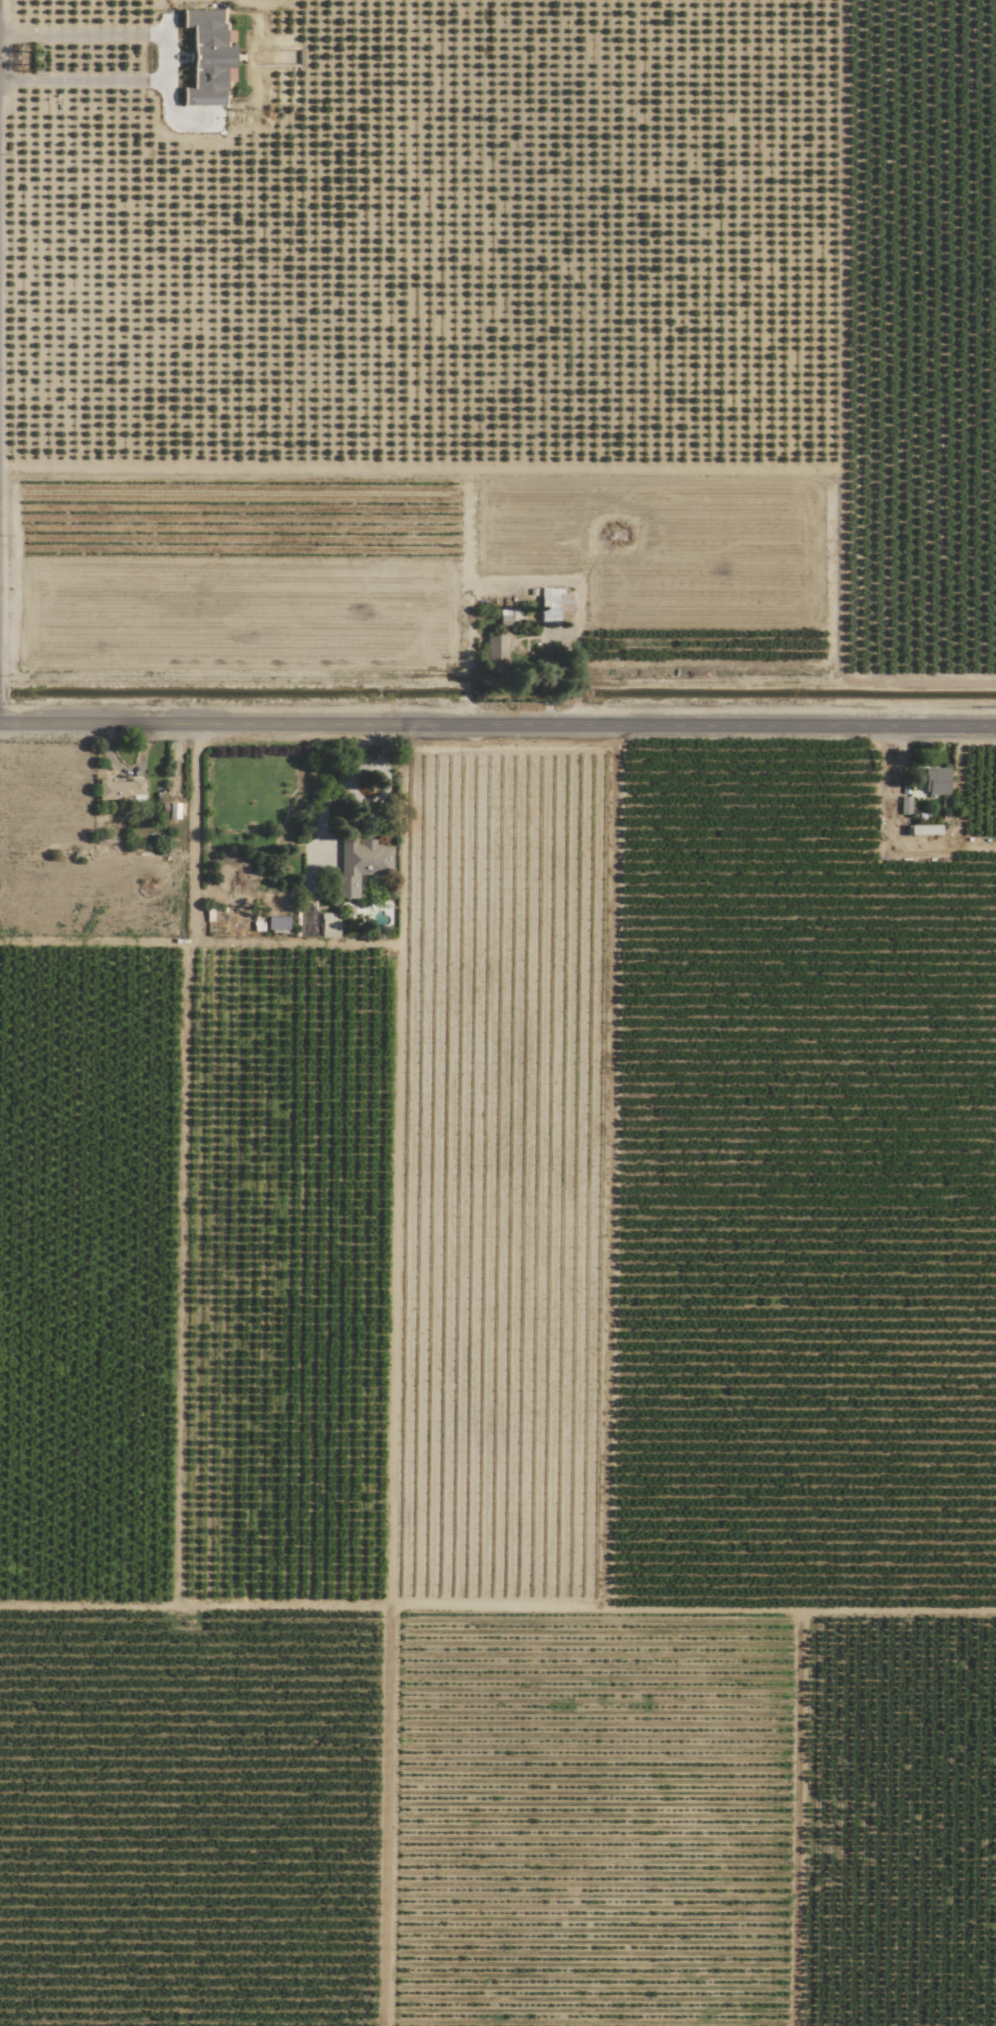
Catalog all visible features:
road: (159, 52)
crop: (561, 565)
building: (553, 604)
road: (497, 727)
road: (344, 782)
building: (120, 789)
road: (888, 833)
building: (359, 864)
building: (329, 926)
crop: (497, 1384)

